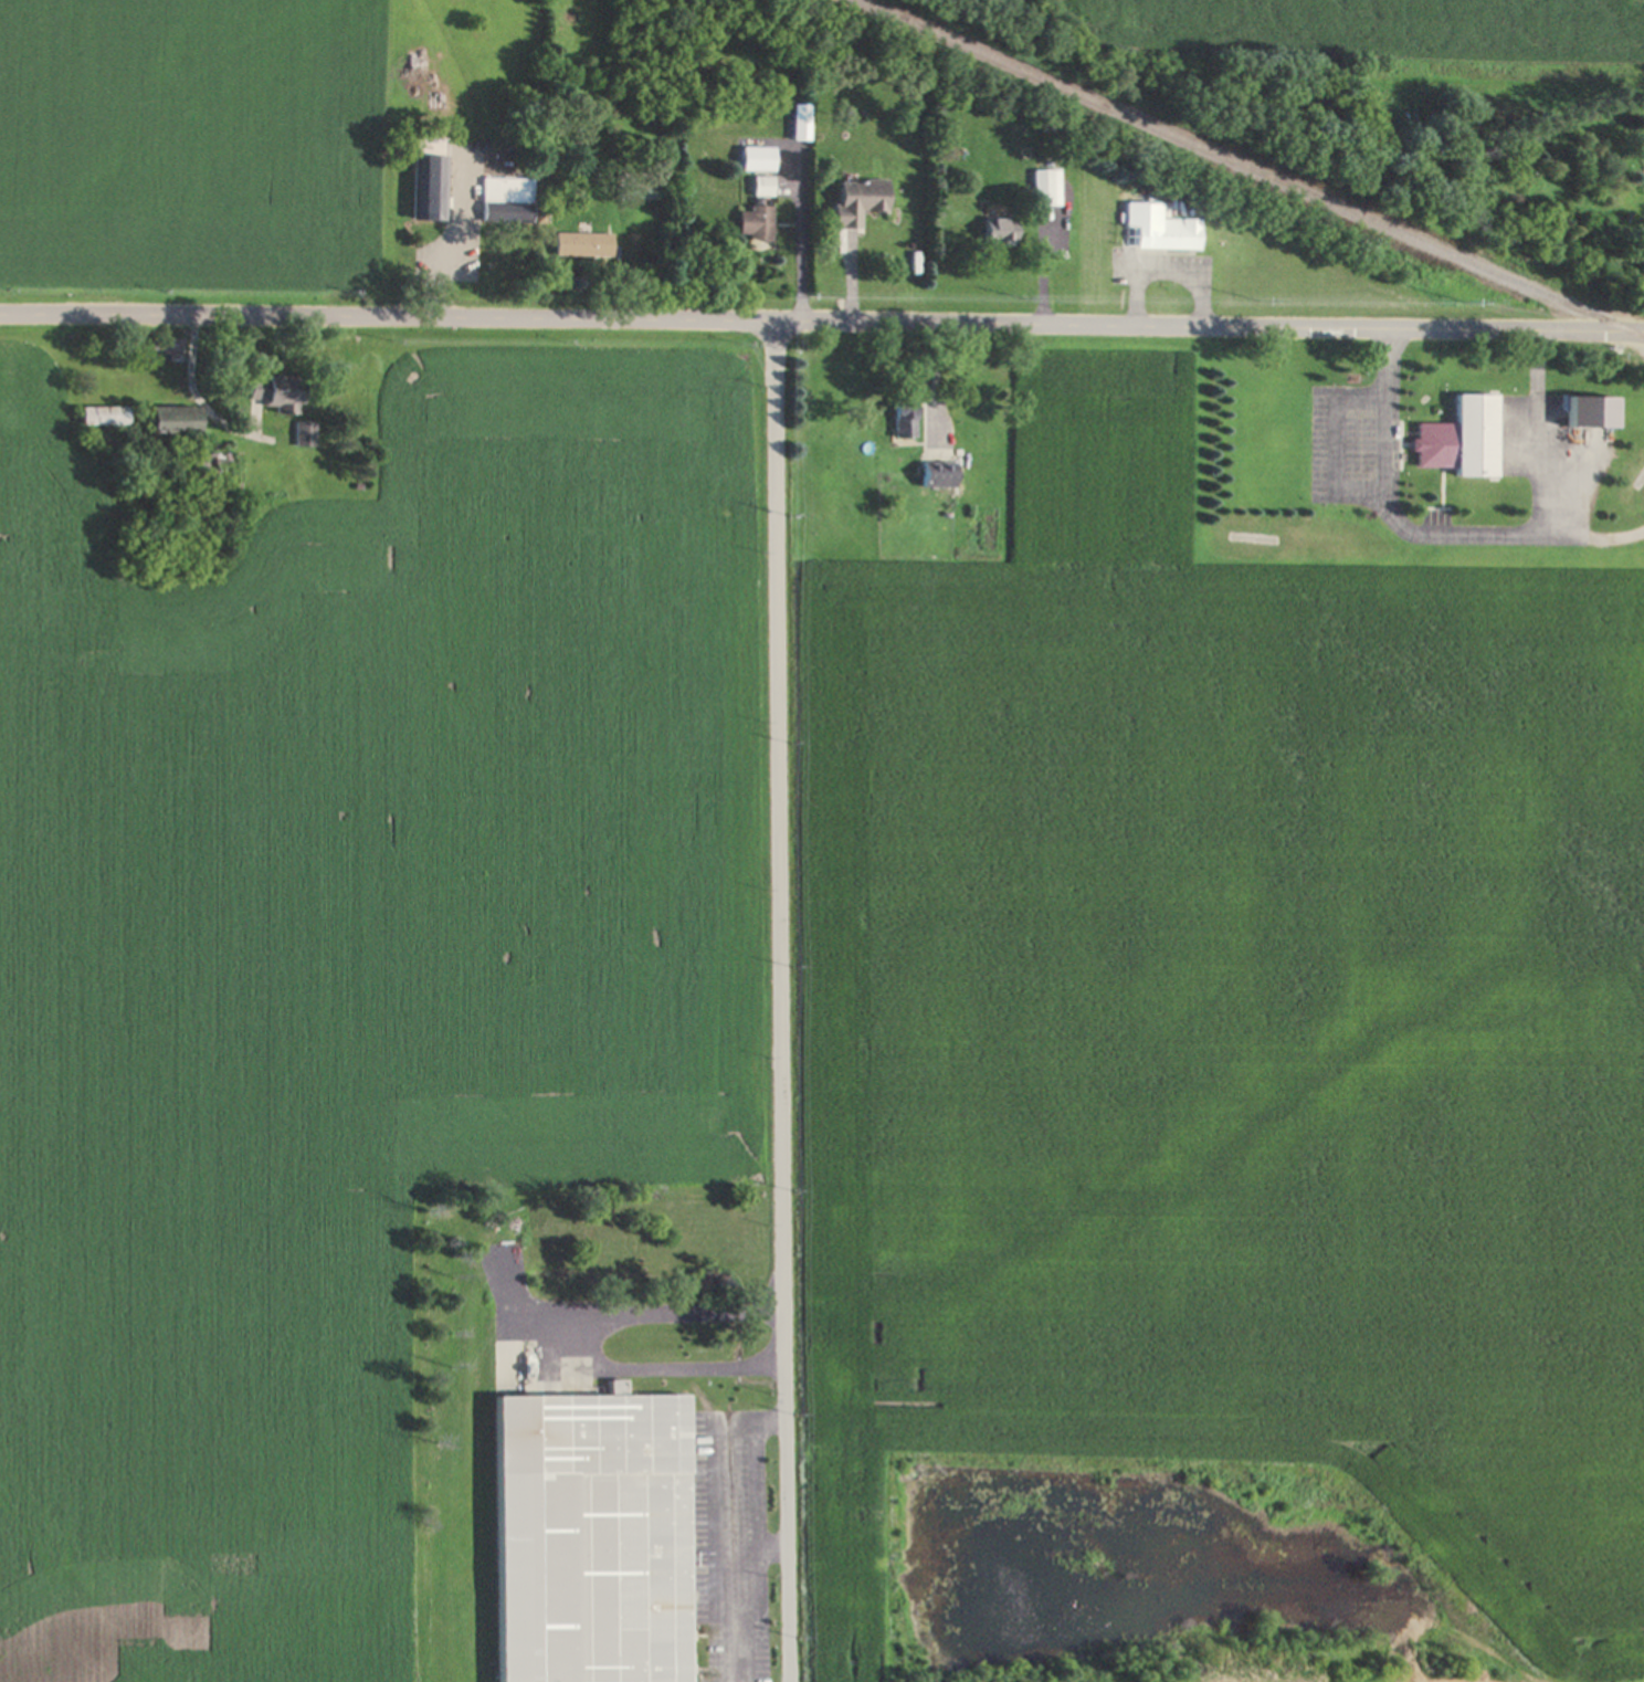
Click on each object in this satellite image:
railway: (1253, 167)
building: (642, 186)
building: (761, 186)
building: (1046, 186)
building: (429, 189)
building: (506, 200)
building: (855, 201)
building: (753, 223)
building: (1158, 228)
building: (997, 230)
building: (581, 244)
building: (1640, 263)
road: (822, 317)
building: (272, 391)
building: (1588, 413)
building: (101, 414)
building: (902, 416)
building: (169, 419)
building: (304, 433)
building: (1459, 439)
building: (935, 474)
crop: (344, 966)
road: (782, 999)
building: (588, 1537)

